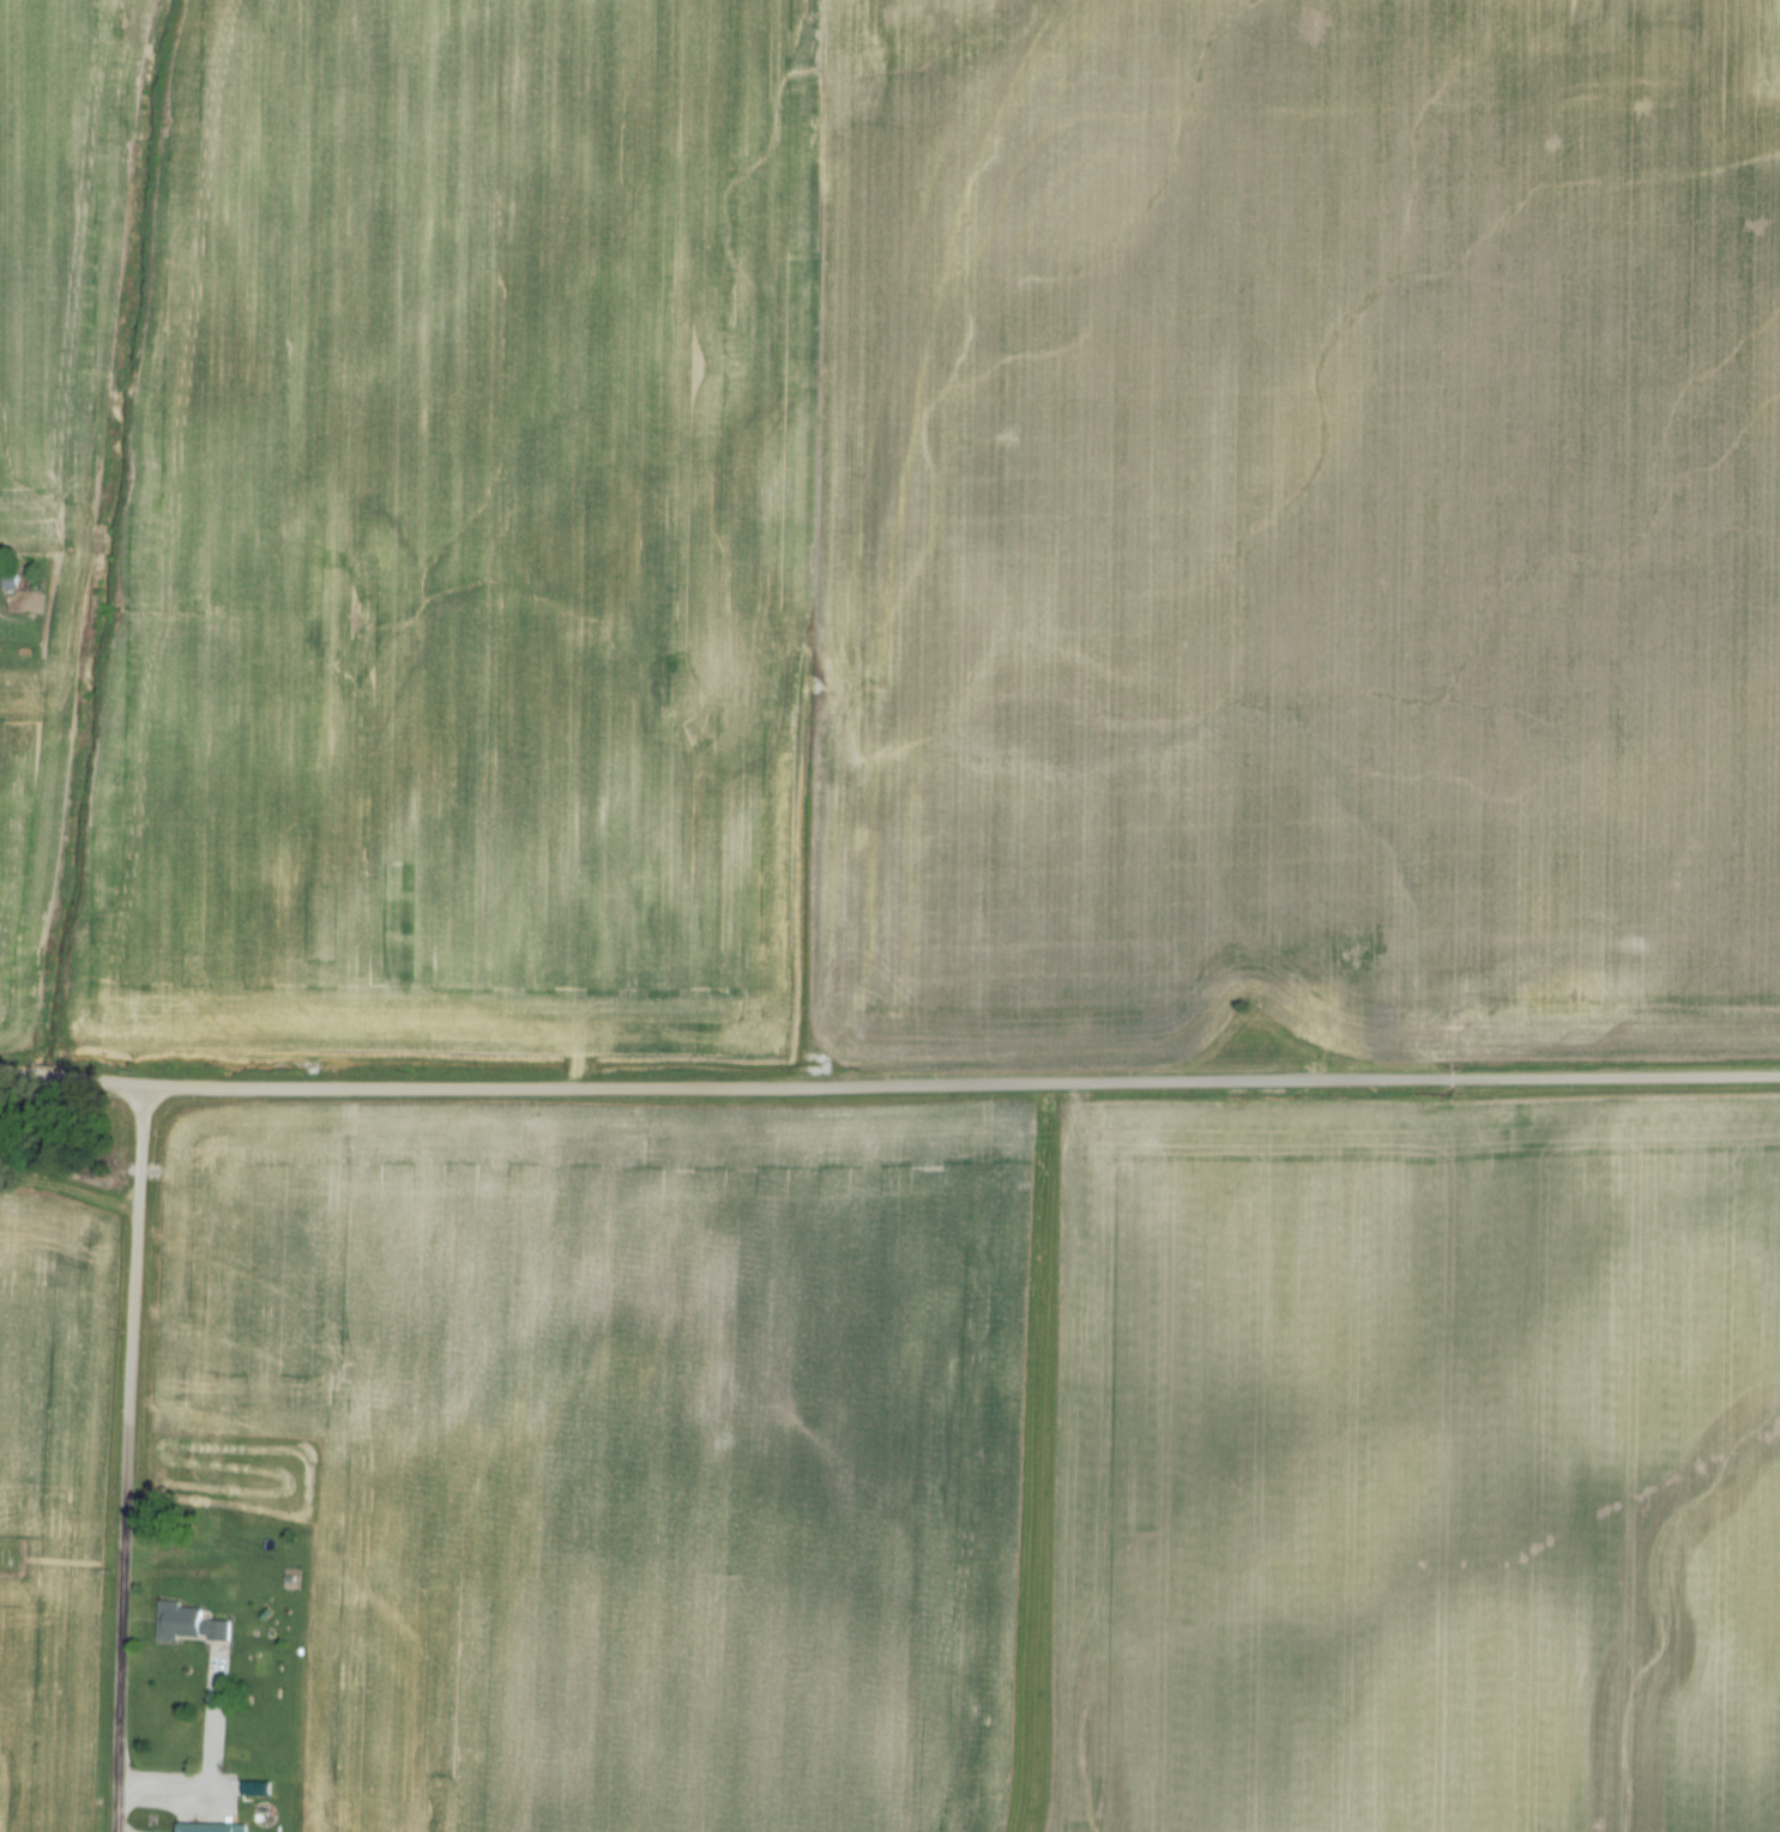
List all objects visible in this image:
road: (888, 1089)
road: (117, 1462)
building: (195, 1626)
road: (211, 1774)
building: (211, 1828)

